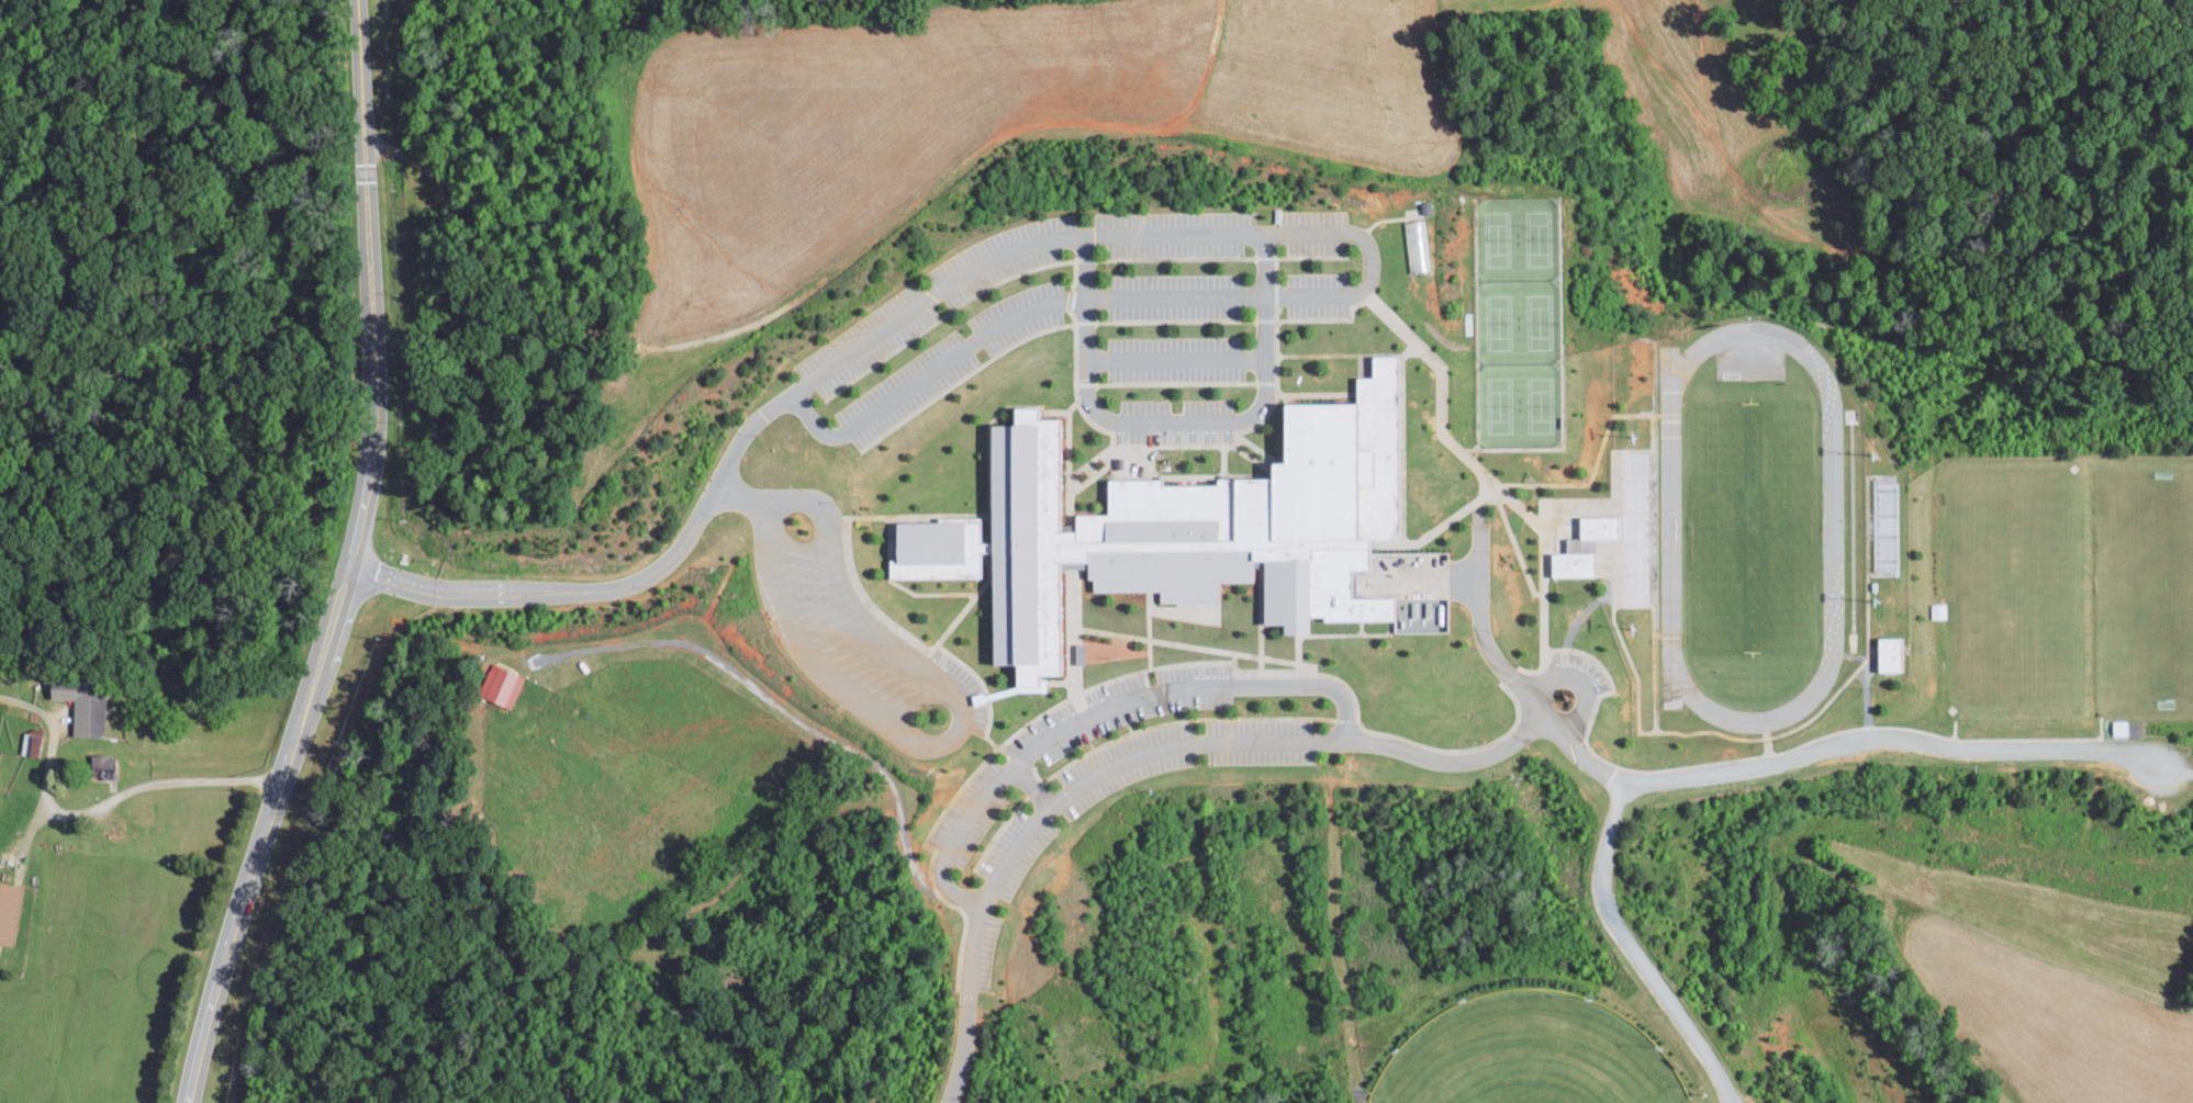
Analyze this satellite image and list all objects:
road: (1128, 235)
building: (1416, 244)
park: (1518, 322)
road: (1174, 359)
road: (1439, 416)
road: (1175, 420)
building: (1204, 527)
park: (1752, 527)
building: (1582, 547)
road: (349, 562)
park: (2068, 585)
road: (1544, 609)
building: (1938, 610)
road: (1869, 630)
building: (1889, 653)
building: (500, 685)
building: (82, 706)
road: (958, 709)
road: (1100, 709)
building: (2119, 727)
road: (988, 740)
building: (33, 741)
road: (1140, 756)
building: (101, 765)
road: (1743, 768)
road: (160, 781)
road: (1032, 787)
building: (8, 911)
road: (1634, 949)
park: (1528, 1056)

